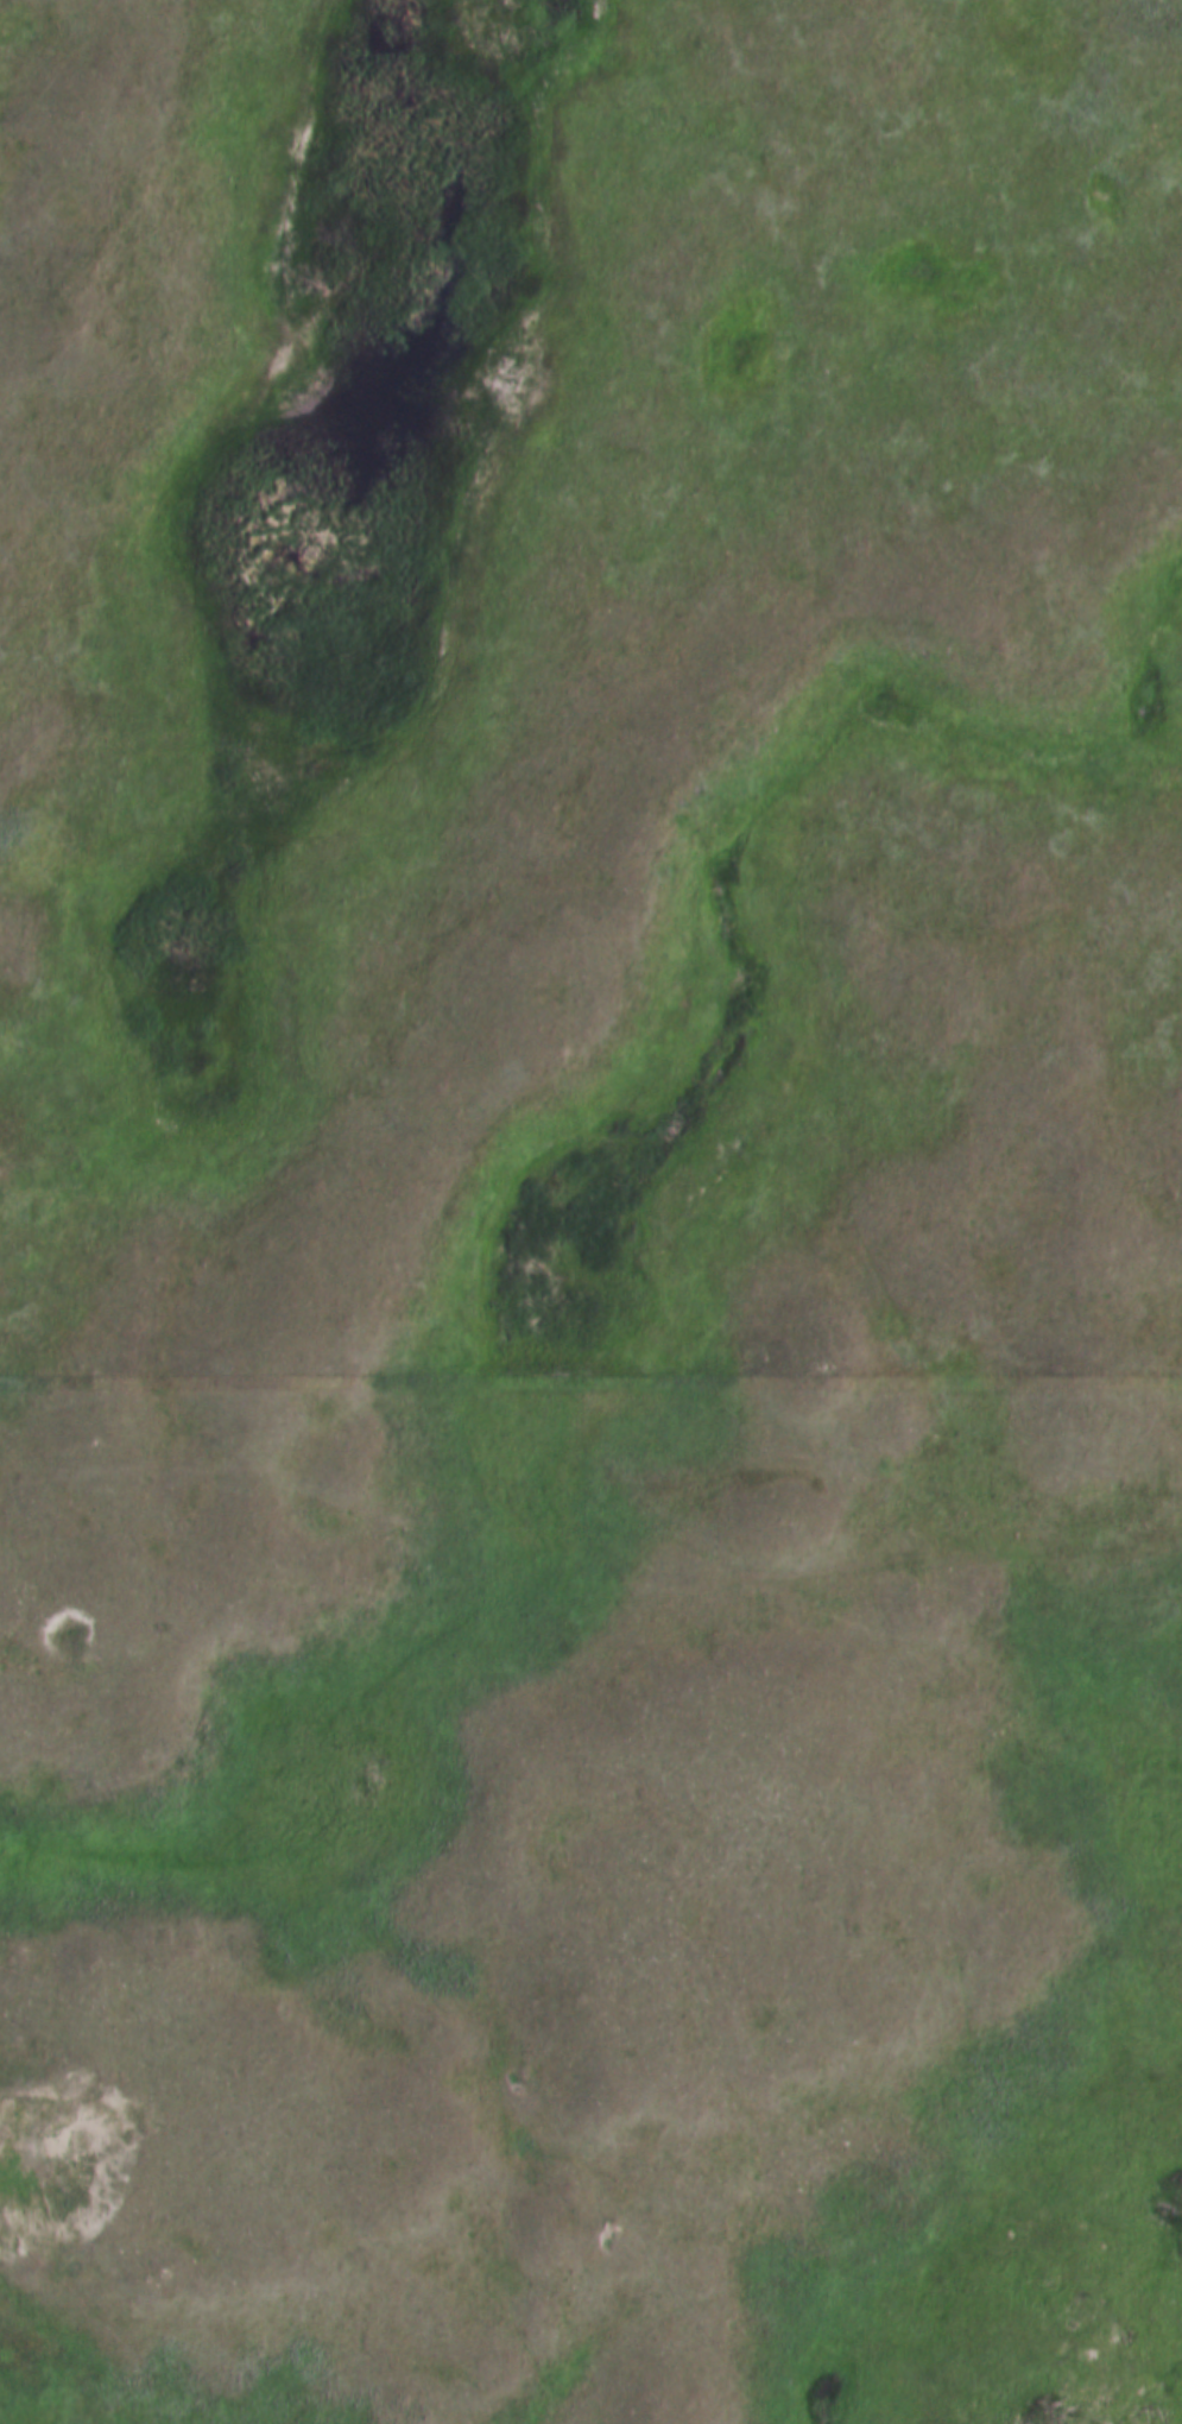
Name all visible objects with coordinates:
quarry: (67, 2141)
road: (42, 2153)

